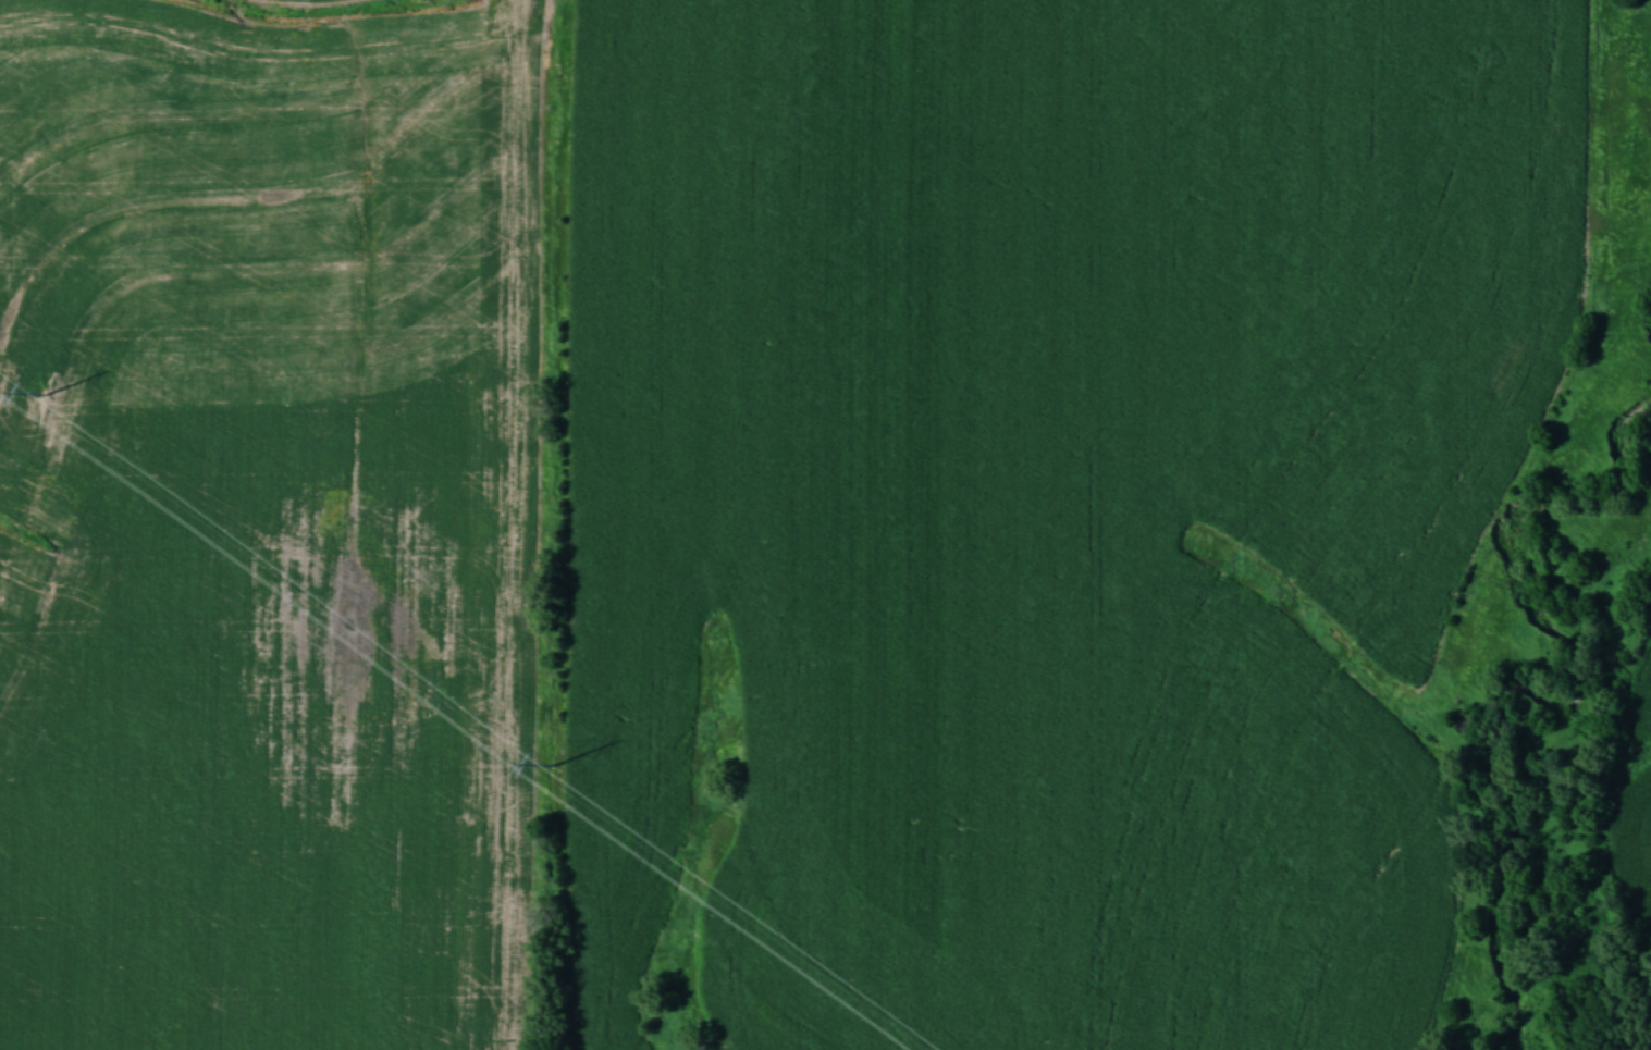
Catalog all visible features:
power tower: (45, 396)
power tower: (553, 766)

